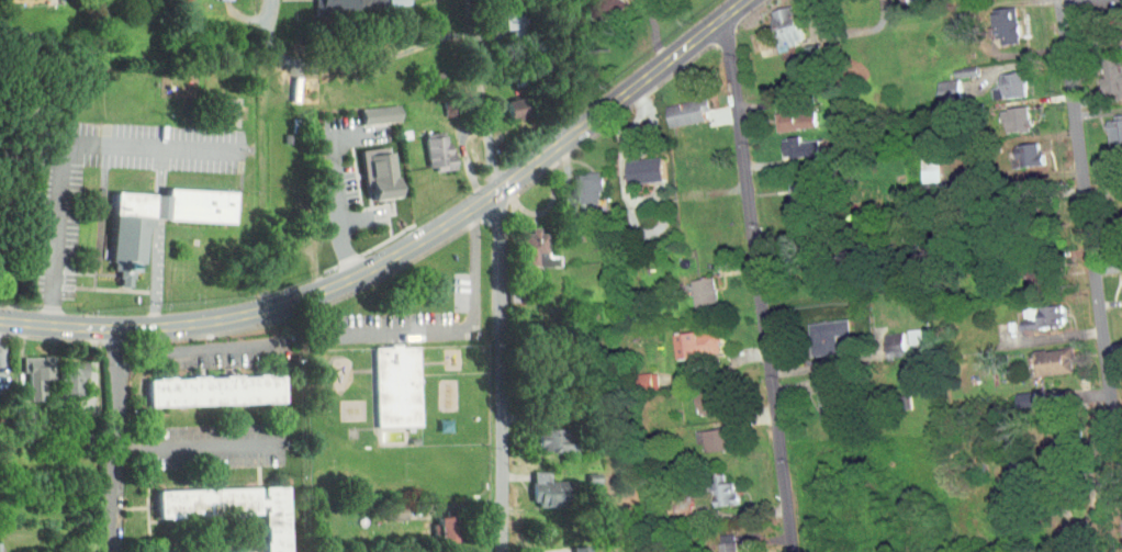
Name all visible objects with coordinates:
building: (362, 0)
building: (321, 1)
building: (588, 4)
building: (496, 12)
building: (992, 20)
building: (772, 22)
road: (272, 23)
road: (446, 33)
building: (1119, 33)
building: (1099, 70)
building: (997, 80)
building: (934, 83)
building: (502, 101)
building: (214, 105)
building: (674, 106)
building: (366, 109)
building: (1002, 113)
building: (781, 114)
building: (1106, 123)
building: (785, 142)
building: (424, 144)
road: (67, 149)
building: (1013, 149)
building: (916, 164)
building: (363, 165)
building: (630, 165)
building: (576, 184)
building: (784, 185)
road: (339, 212)
building: (521, 243)
building: (110, 244)
road: (1095, 250)
road: (404, 251)
building: (1115, 278)
building: (689, 284)
road: (754, 284)
building: (1030, 309)
building: (1117, 309)
building: (812, 328)
building: (902, 329)
road: (437, 330)
building: (684, 336)
building: (882, 337)
building: (1040, 353)
building: (57, 370)
building: (23, 371)
road: (502, 371)
building: (635, 374)
building: (383, 379)
building: (200, 383)
building: (694, 395)
building: (814, 395)
building: (542, 432)
building: (702, 432)
road: (112, 440)
road: (191, 447)
building: (534, 482)
building: (708, 483)
building: (382, 505)
building: (433, 521)
building: (261, 527)
building: (715, 540)
building: (568, 545)
building: (534, 551)

